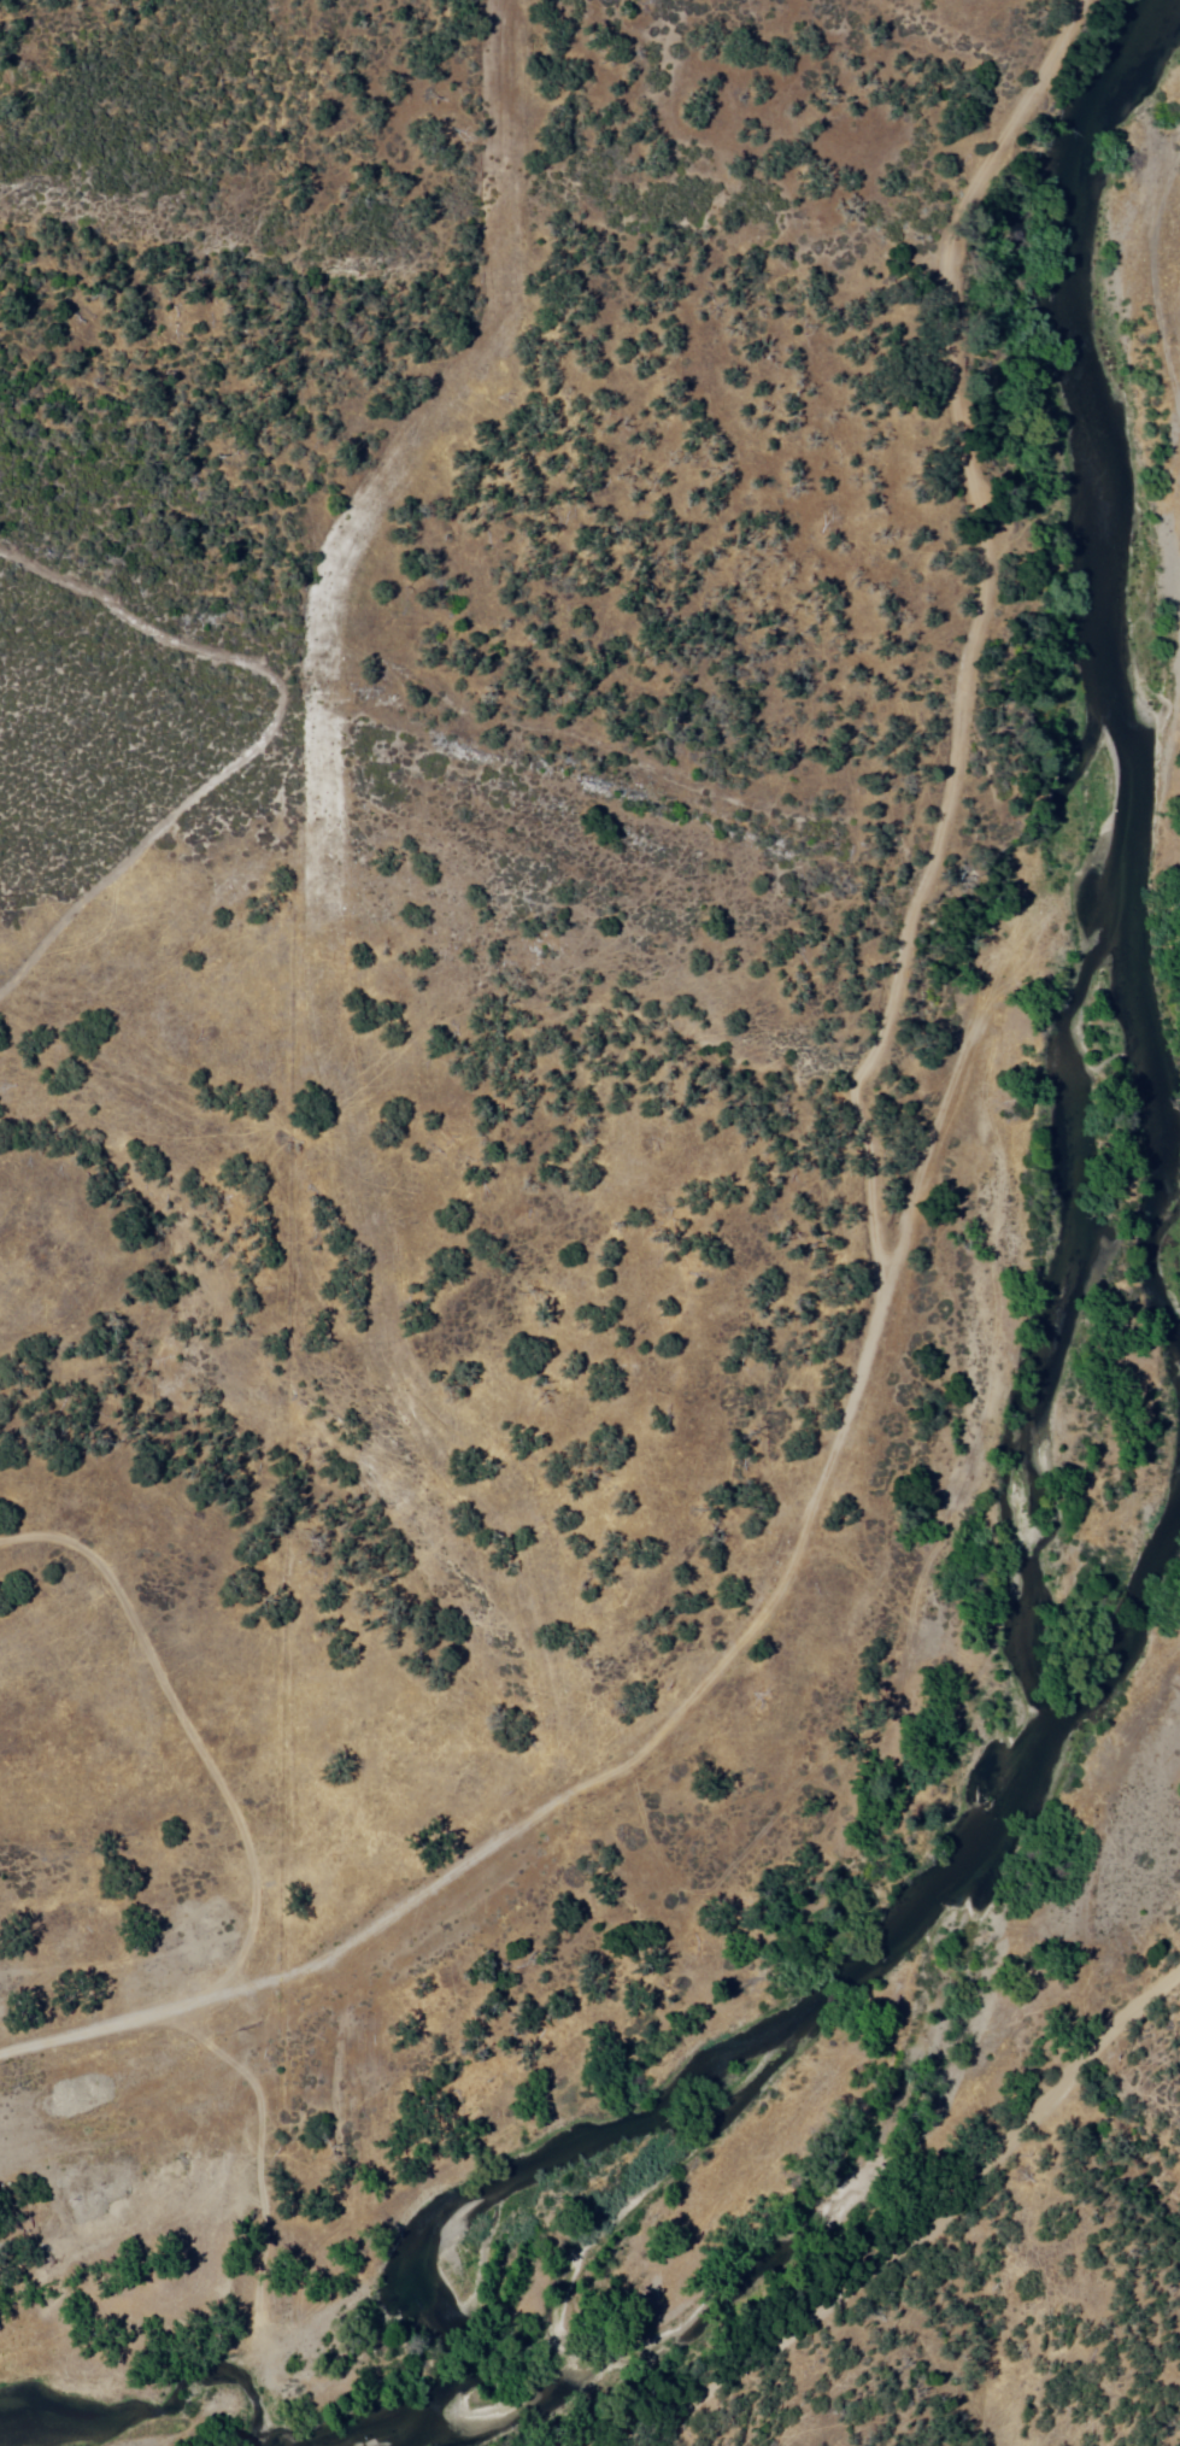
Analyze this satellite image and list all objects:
river: (1105, 135)
river: (1110, 815)
road: (327, 894)
road: (916, 899)
road: (939, 1115)
river: (1090, 1668)
road: (187, 1723)
river: (953, 1866)
road: (333, 1941)
river: (664, 2100)
road: (920, 2234)
river: (448, 2357)
river: (403, 2432)

